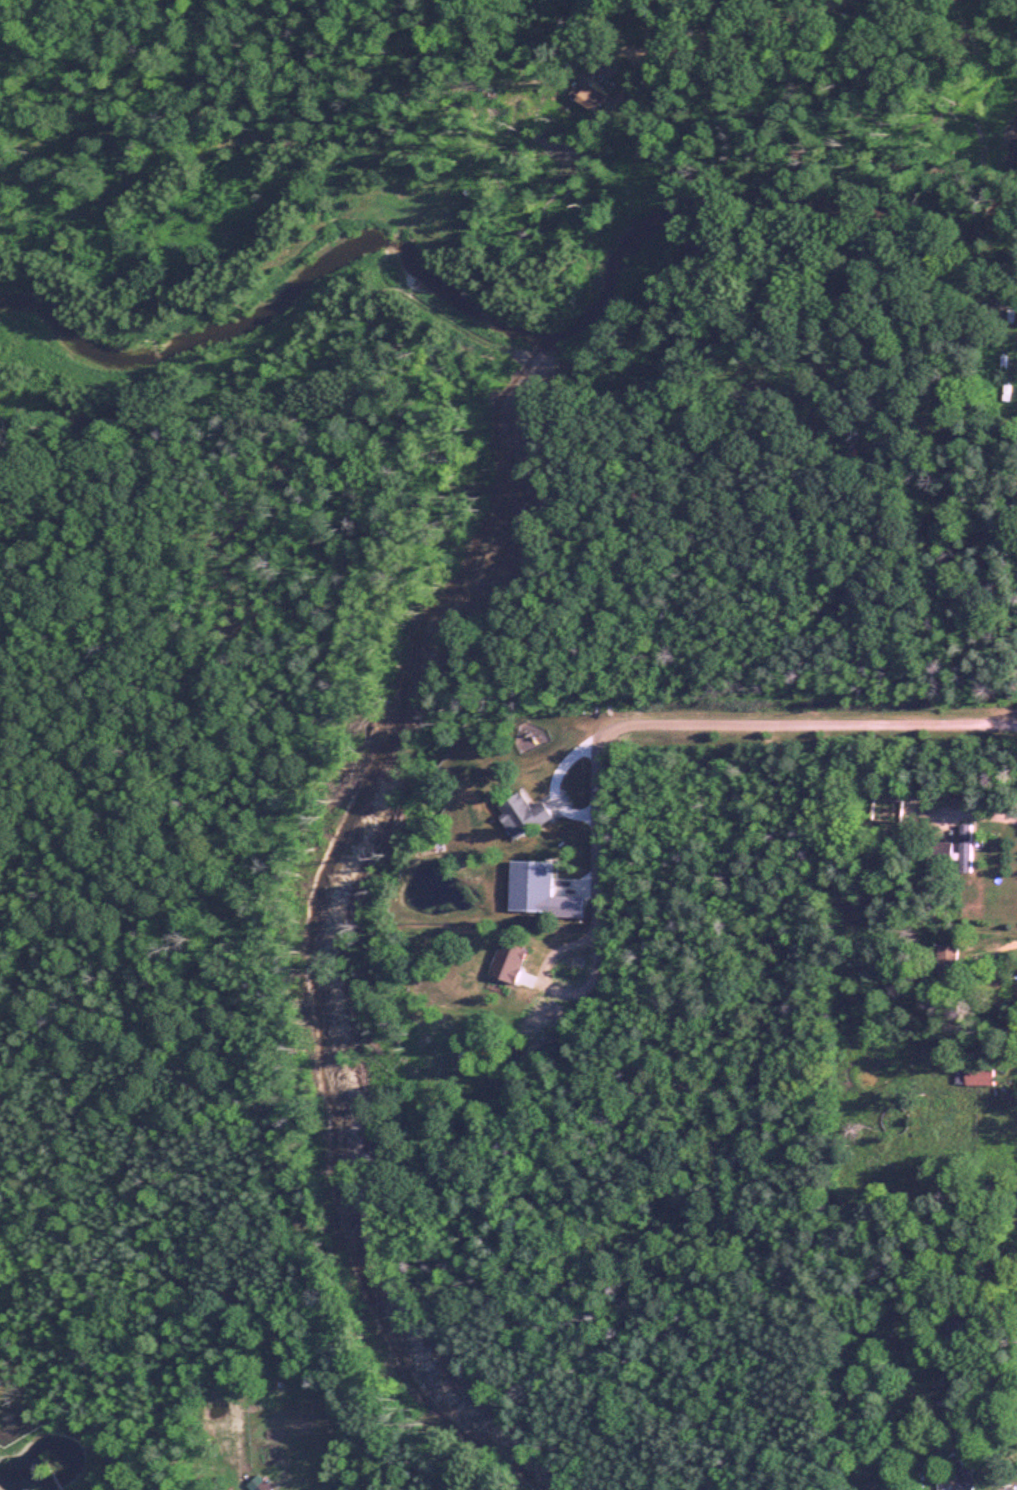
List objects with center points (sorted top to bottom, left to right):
building: (587, 96)
road: (709, 721)
road: (977, 811)
building: (520, 816)
building: (965, 849)
building: (937, 854)
building: (946, 960)
building: (505, 964)
road: (556, 991)
building: (978, 1076)
building: (952, 1327)
building: (255, 1489)

